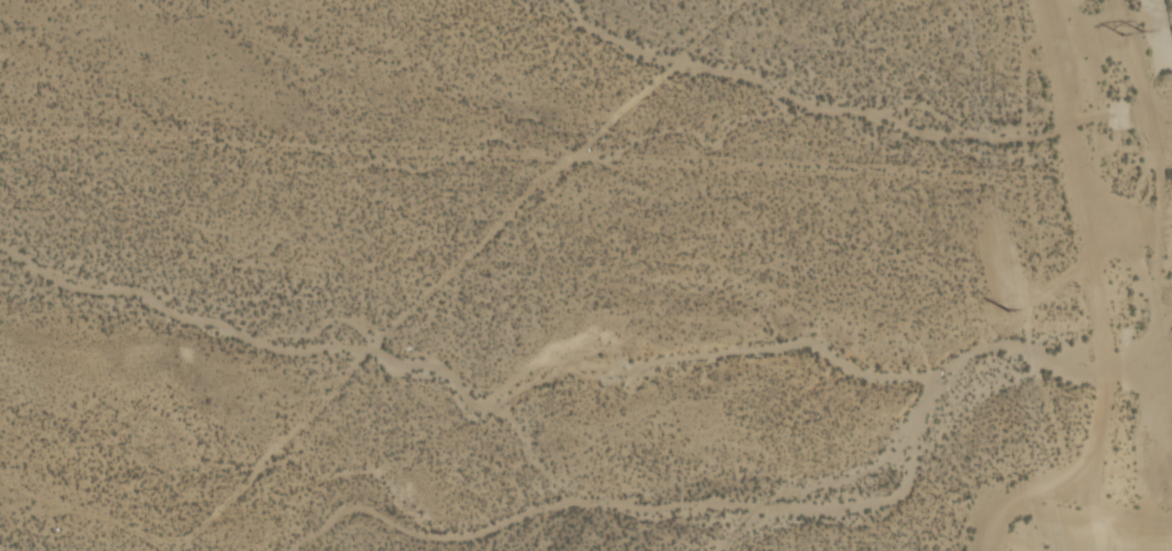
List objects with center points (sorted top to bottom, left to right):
power tower: (1132, 30)
power tower: (1009, 310)

